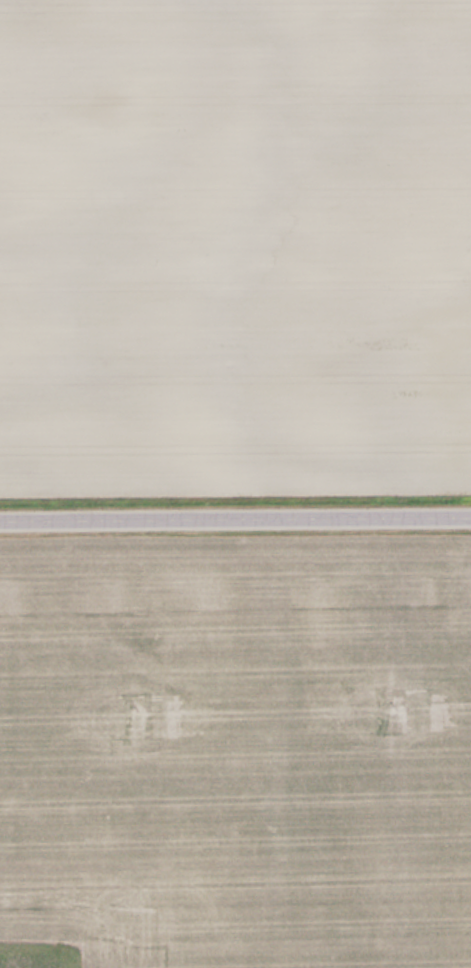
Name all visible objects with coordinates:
road: (235, 520)

